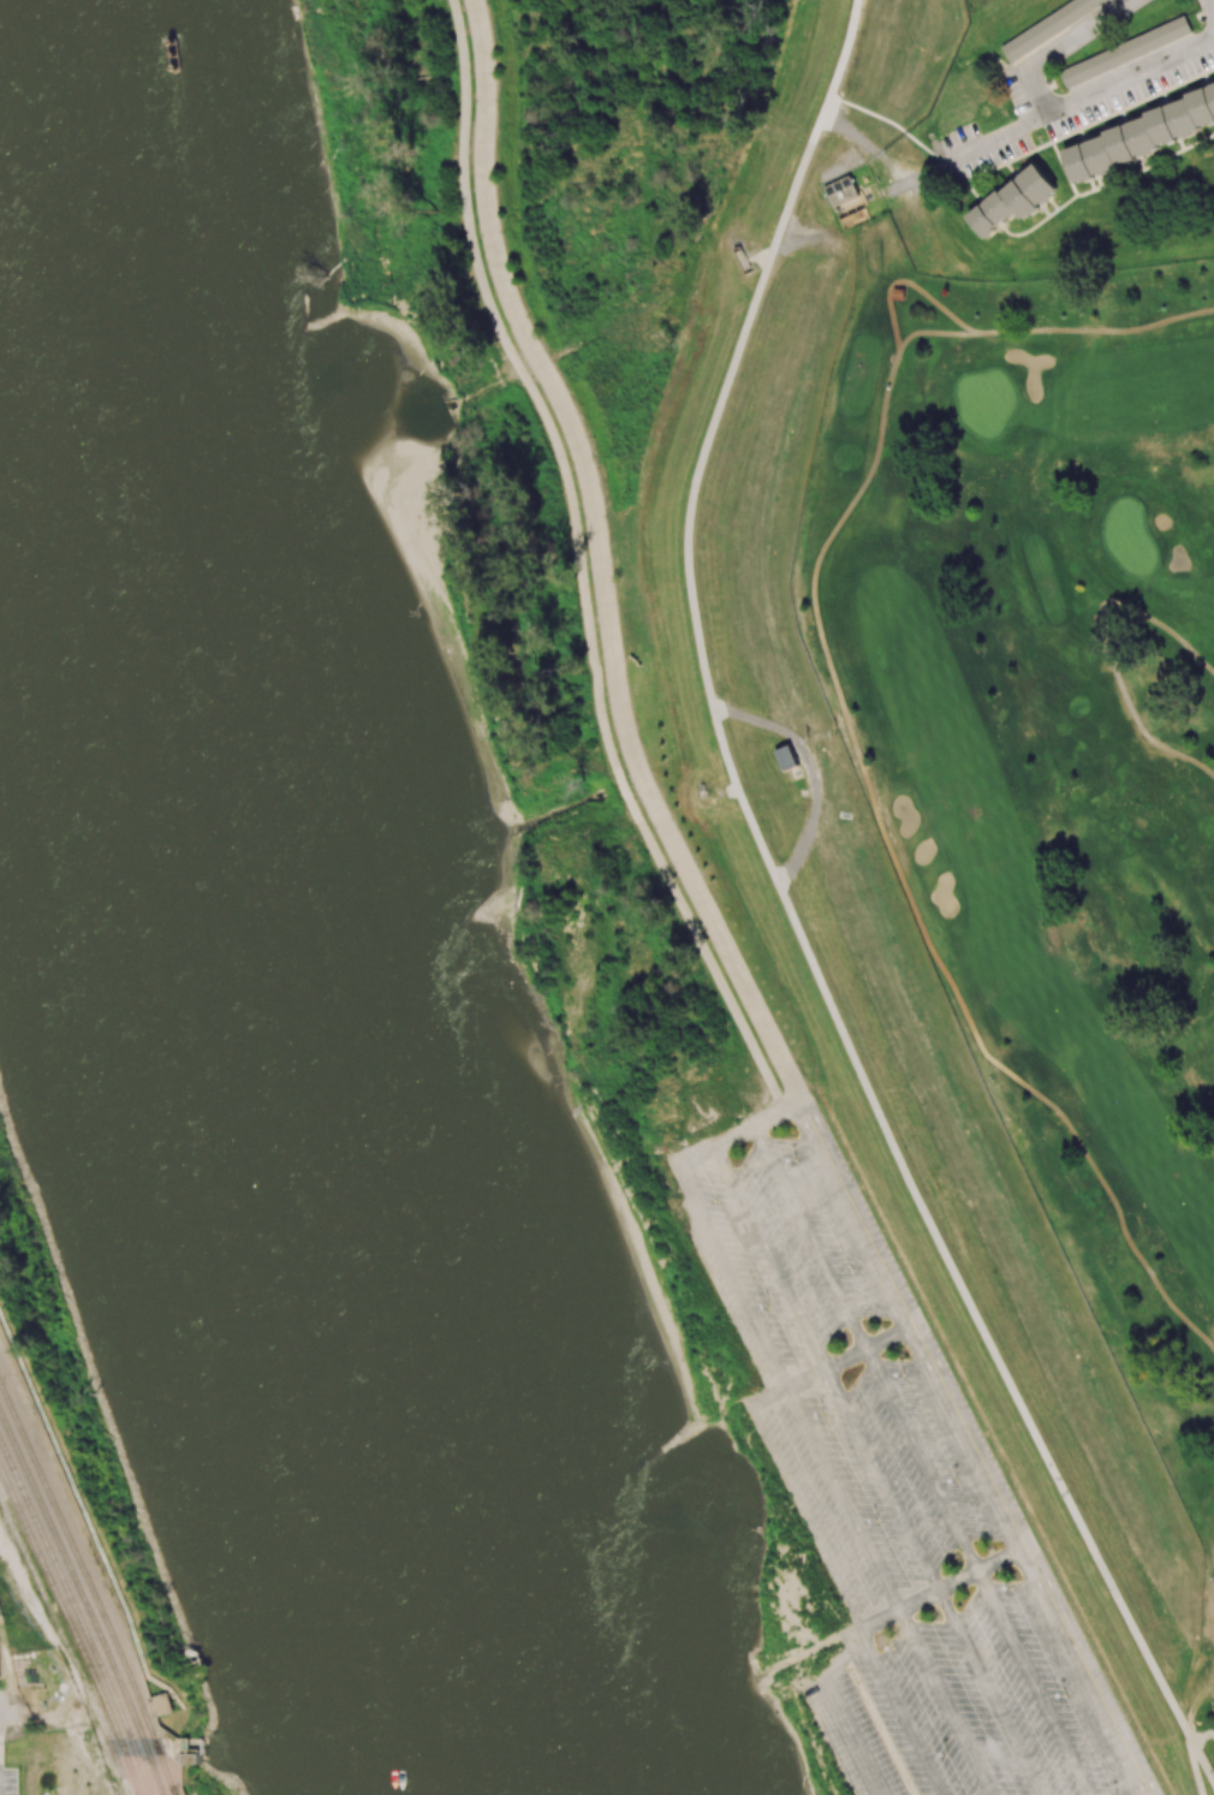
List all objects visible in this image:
road: (1210, 7)
building: (1048, 25)
road: (1061, 48)
building: (1125, 52)
road: (1131, 76)
road: (994, 139)
road: (865, 145)
road: (926, 172)
road: (889, 190)
road: (911, 198)
building: (1013, 200)
building: (847, 207)
building: (742, 262)
road: (907, 283)
building: (900, 297)
road: (1053, 329)
road: (599, 564)
road: (579, 572)
road: (1107, 646)
park: (1046, 749)
building: (782, 760)
road: (808, 771)
building: (704, 790)
road: (904, 885)
river: (239, 919)
road: (792, 919)
road: (778, 1119)
road: (734, 1141)
road: (696, 1161)
road: (853, 1219)
road: (810, 1241)
road: (770, 1260)
road: (732, 1279)
road: (846, 1359)
road: (767, 1398)
road: (921, 1461)
road: (882, 1480)
parking lot: (898, 1496)
road: (843, 1500)
road: (1022, 1563)
railway: (91, 1586)
road: (939, 1592)
railway: (84, 1600)
road: (845, 1600)
railway: (78, 1615)
railway: (72, 1627)
railway: (67, 1647)
road: (1033, 1683)
road: (989, 1693)
road: (945, 1704)
road: (837, 1708)
road: (873, 1713)
parking lot: (6, 1719)
road: (1194, 1769)
parking lot: (7, 1778)
railway: (174, 1794)
railway: (174, 1794)

